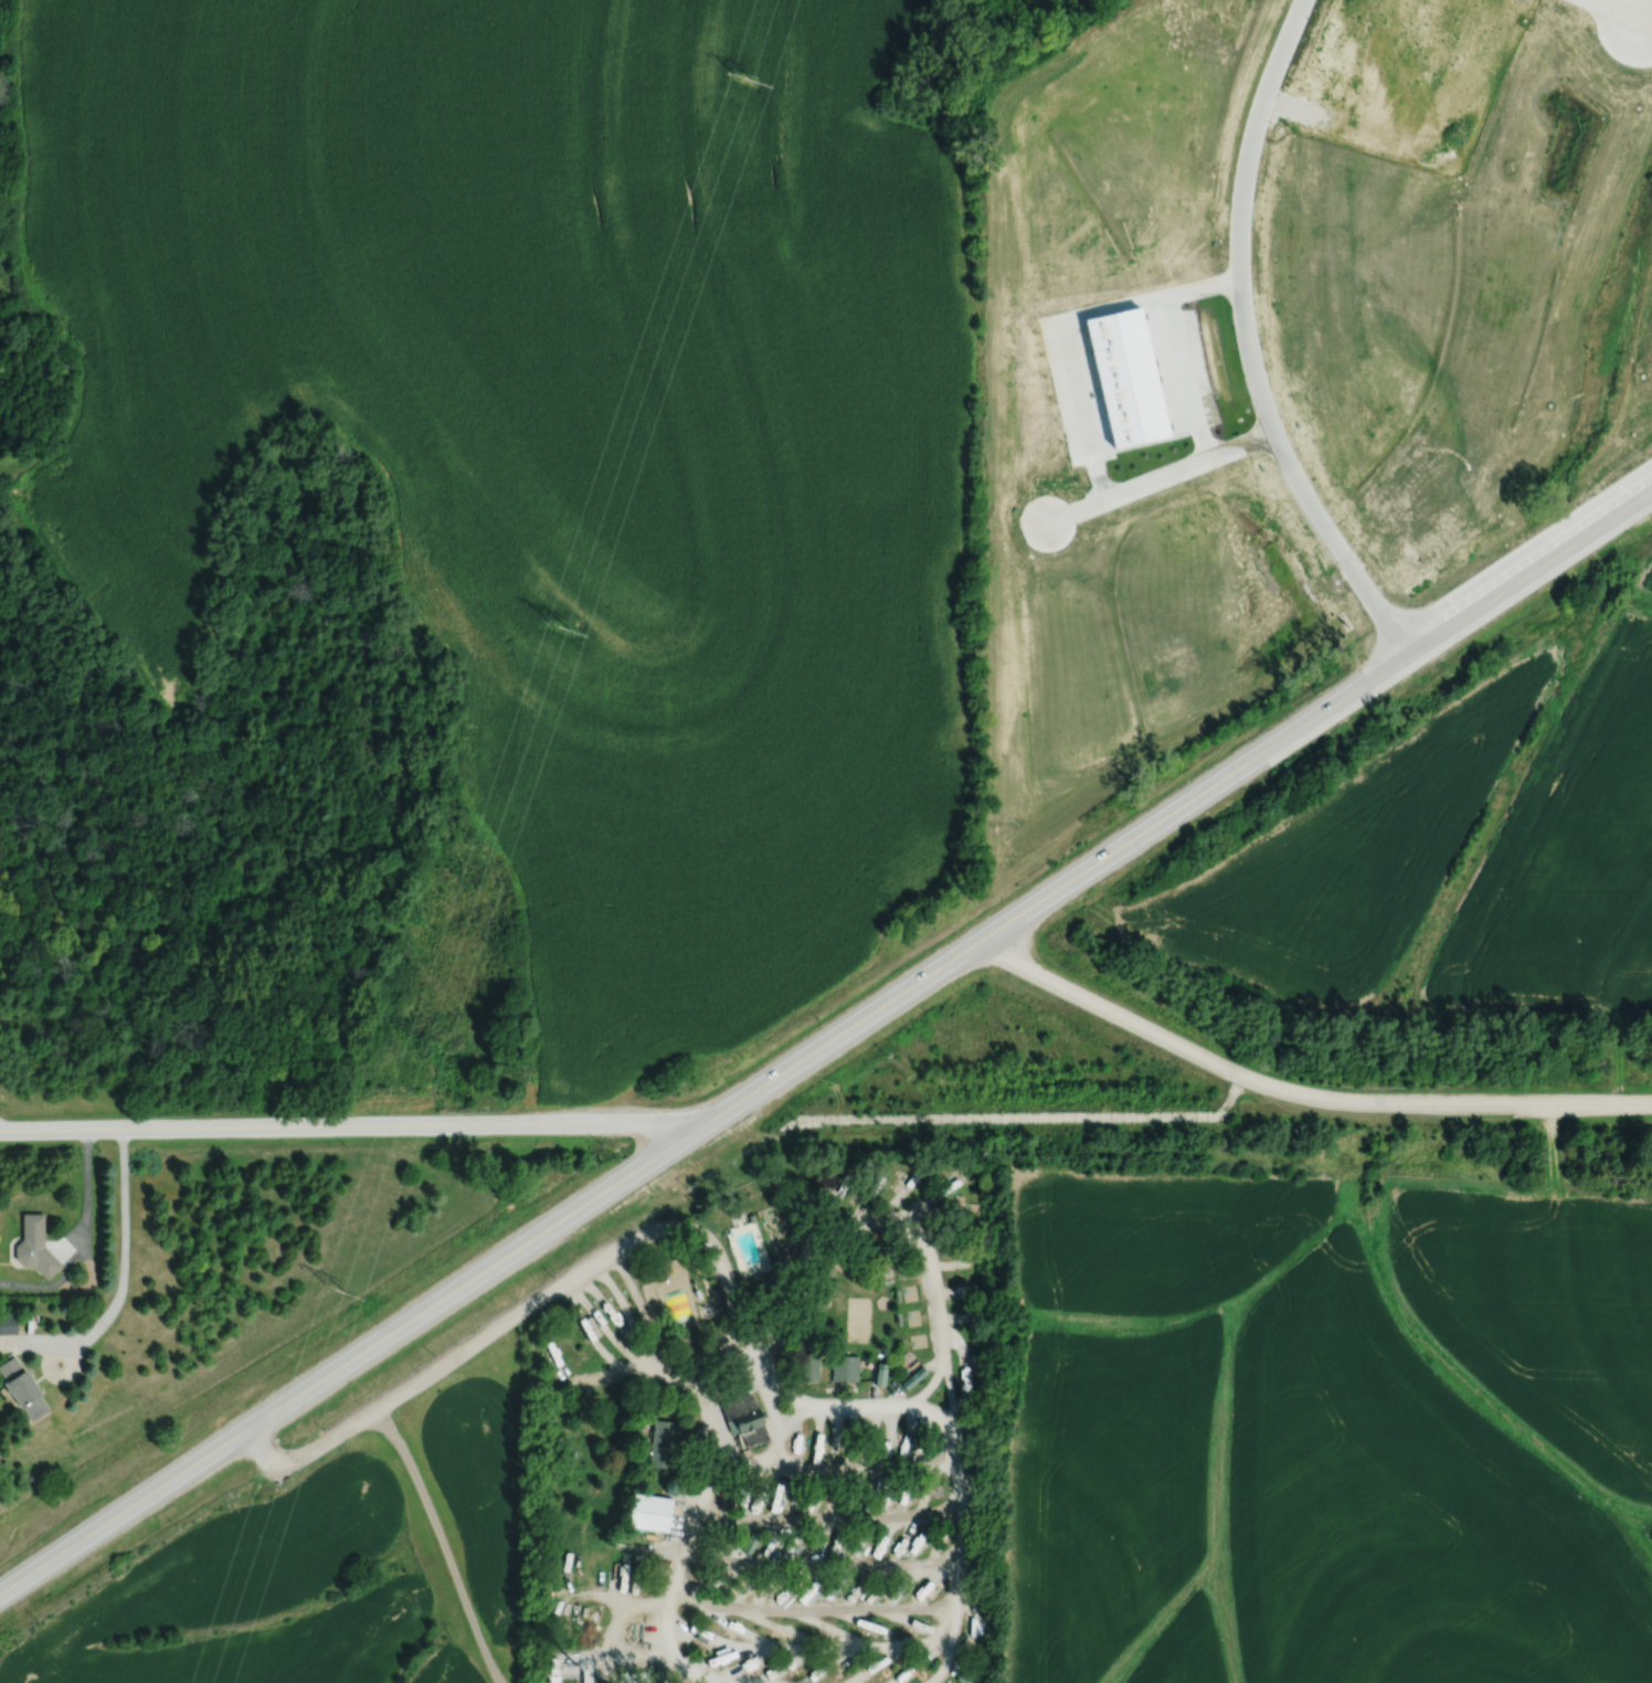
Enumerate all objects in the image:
road: (1622, 7)
power tower: (744, 83)
road: (1247, 341)
road: (1157, 474)
power tower: (564, 626)
road: (1110, 1009)
road: (826, 1044)
road: (1227, 1098)
road: (1443, 1102)
road: (999, 1116)
road: (3, 1134)
road: (353, 1134)
road: (87, 1210)
road: (891, 1225)
road: (126, 1250)
road: (604, 1266)
power tower: (338, 1301)
building: (8, 1323)
road: (51, 1354)
road: (633, 1357)
building: (808, 1368)
building: (845, 1368)
building: (878, 1373)
building: (21, 1389)
building: (299, 1397)
road: (952, 1400)
building: (751, 1430)
road: (961, 1441)
building: (663, 1443)
road: (308, 1460)
road: (838, 1473)
building: (649, 1512)
road: (832, 1524)
building: (750, 1539)
building: (836, 1544)
road: (689, 1547)
building: (813, 1547)
road: (442, 1548)
road: (824, 1567)
building: (850, 1592)
road: (815, 1610)
building: (833, 1628)
road: (813, 1648)

